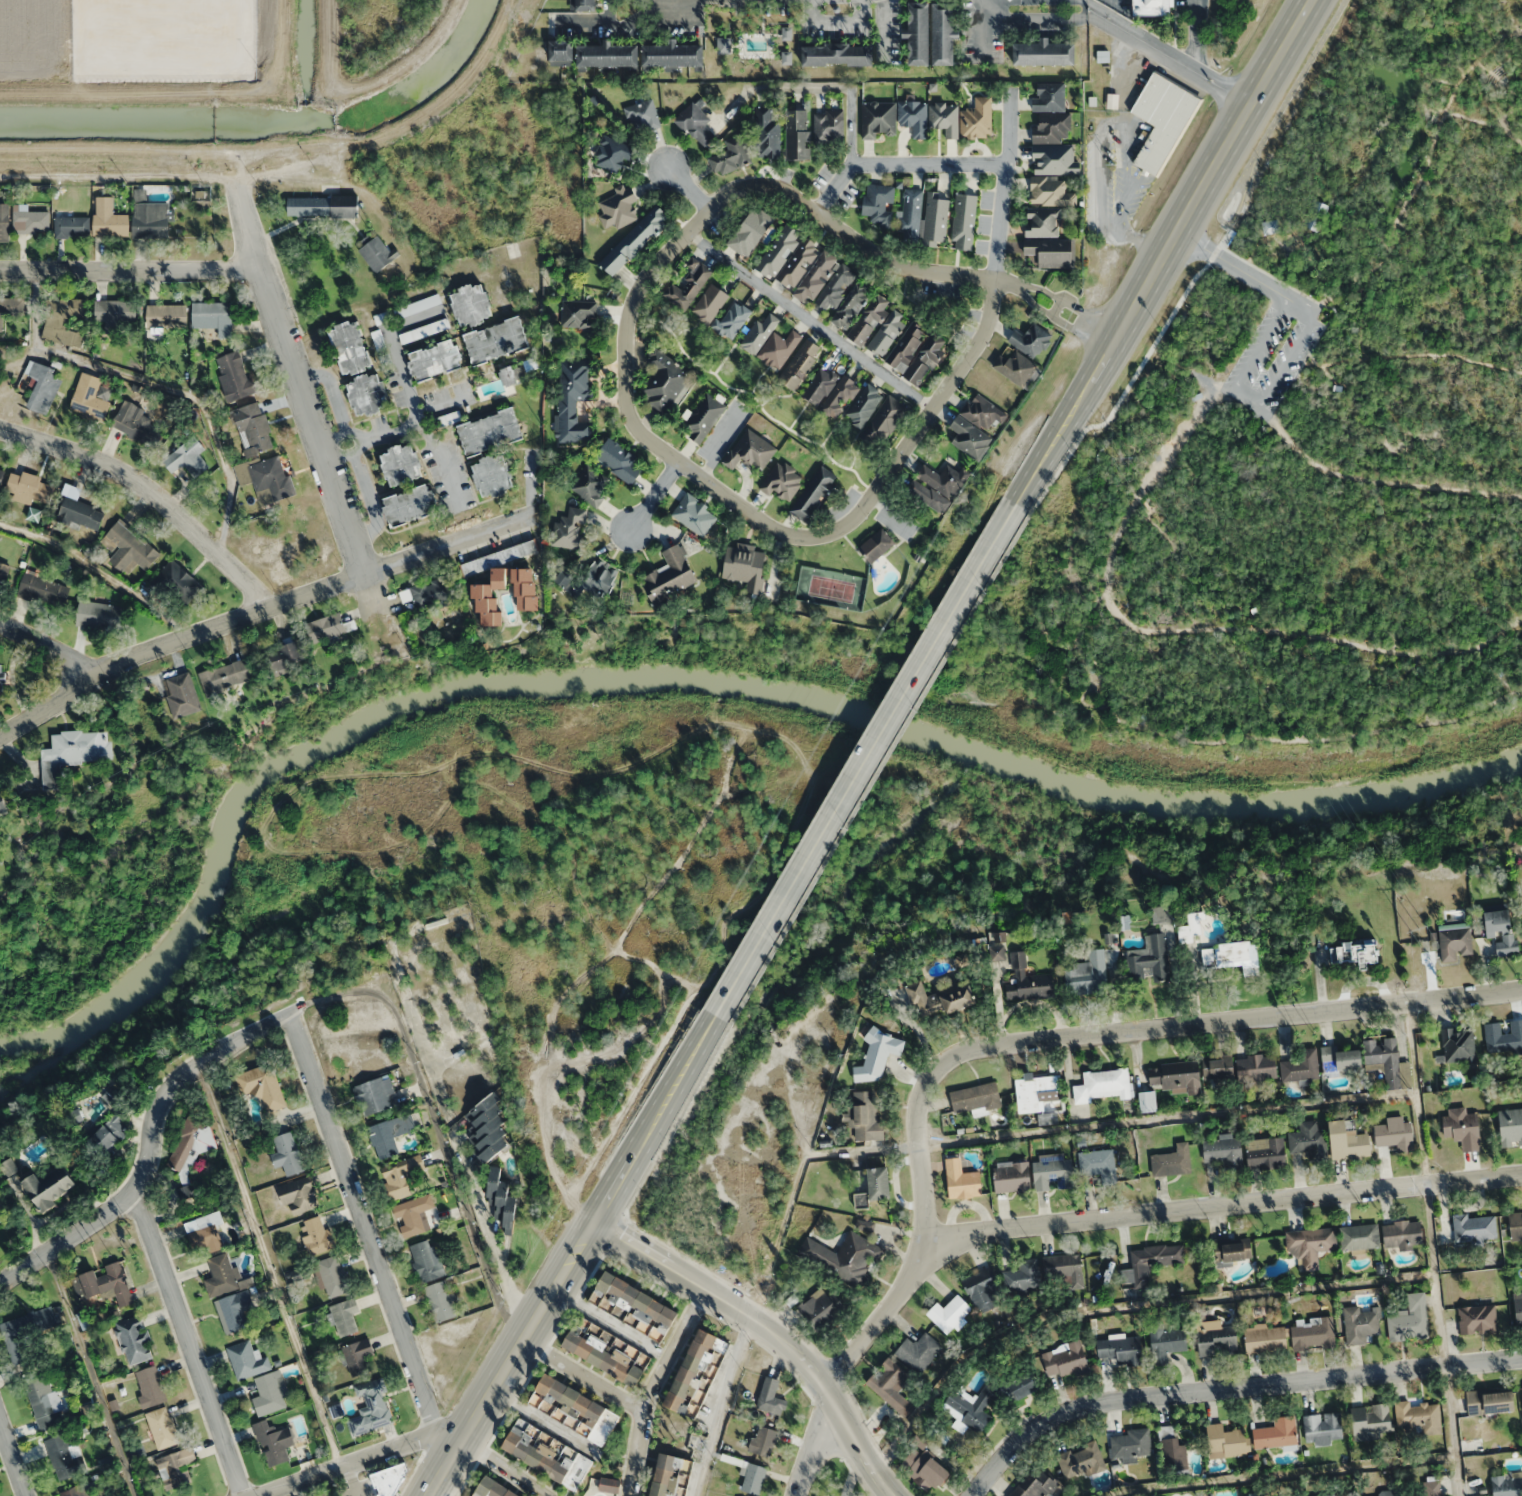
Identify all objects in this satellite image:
road: (1072, 2)
building: (582, 5)
building: (1150, 7)
road: (609, 10)
road: (882, 18)
road: (835, 19)
road: (611, 22)
road: (981, 30)
building: (916, 33)
building: (942, 33)
road: (1166, 49)
building: (561, 52)
building: (1043, 52)
building: (837, 54)
building: (607, 56)
building: (672, 56)
building: (1049, 96)
building: (642, 115)
building: (913, 117)
building: (977, 118)
building: (943, 119)
building: (878, 120)
building: (1162, 120)
building: (694, 124)
building: (828, 125)
building: (1051, 127)
building: (767, 134)
building: (797, 134)
building: (612, 154)
building: (730, 156)
building: (1054, 159)
road: (902, 162)
power tower: (1110, 163)
road: (689, 187)
road: (1005, 190)
road: (1413, 190)
building: (1050, 191)
building: (878, 204)
building: (322, 205)
building: (618, 207)
building: (910, 214)
building: (1316, 215)
building: (108, 219)
building: (150, 219)
building: (935, 219)
building: (30, 221)
building: (964, 221)
building: (1041, 221)
building: (4, 223)
building: (71, 226)
building: (1270, 226)
building: (750, 231)
building: (635, 240)
building: (778, 250)
road: (1164, 251)
building: (1050, 252)
building: (377, 253)
building: (798, 262)
road: (1210, 262)
road: (1230, 265)
road: (129, 268)
building: (817, 275)
building: (687, 287)
building: (835, 287)
building: (709, 303)
building: (471, 304)
building: (851, 305)
building: (10, 307)
building: (64, 310)
building: (578, 314)
building: (113, 315)
building: (166, 316)
building: (213, 317)
building: (732, 319)
building: (869, 319)
building: (424, 330)
building: (887, 332)
building: (495, 340)
building: (1030, 340)
building: (350, 347)
road: (625, 349)
building: (779, 349)
parking lot: (1273, 349)
building: (915, 352)
road: (1415, 353)
building: (435, 360)
road: (1296, 363)
building: (800, 364)
building: (1016, 368)
building: (508, 376)
building: (234, 377)
road: (297, 381)
building: (663, 381)
building: (42, 386)
road: (1230, 388)
building: (830, 391)
building: (367, 395)
building: (90, 397)
building: (573, 399)
road: (1262, 401)
building: (864, 405)
building: (704, 416)
building: (883, 422)
building: (137, 424)
building: (976, 425)
building: (253, 429)
building: (490, 431)
road: (1268, 442)
park: (1289, 448)
building: (750, 451)
power tower: (1121, 457)
building: (187, 458)
building: (620, 461)
building: (401, 464)
building: (1, 474)
building: (492, 474)
building: (266, 477)
building: (592, 485)
building: (30, 486)
building: (938, 486)
road: (149, 494)
building: (813, 494)
road: (656, 496)
building: (81, 513)
building: (694, 514)
building: (569, 529)
road: (1119, 532)
building: (877, 545)
building: (128, 548)
building: (745, 567)
building: (3, 575)
building: (670, 576)
building: (590, 579)
building: (175, 584)
building: (43, 589)
building: (525, 589)
building: (430, 591)
building: (490, 598)
road: (258, 611)
building: (99, 615)
building: (325, 627)
road: (50, 647)
building: (283, 654)
road: (1492, 670)
building: (226, 676)
building: (1, 681)
building: (182, 694)
road: (1248, 737)
building: (72, 752)
road: (866, 759)
road: (880, 766)
building: (2, 805)
park: (539, 886)
building: (1161, 913)
building: (1191, 927)
power tower: (1418, 928)
building: (1501, 930)
building: (1455, 942)
building: (998, 944)
building: (1354, 951)
building: (1227, 955)
building: (1149, 958)
building: (1088, 974)
building: (1027, 981)
building: (939, 999)
building: (1503, 1036)
road: (991, 1044)
building: (1458, 1044)
building: (878, 1055)
building: (1339, 1059)
building: (1388, 1061)
building: (1301, 1065)
building: (1256, 1066)
building: (1217, 1067)
building: (1174, 1073)
building: (262, 1086)
building: (1103, 1086)
building: (1036, 1092)
building: (374, 1094)
building: (975, 1098)
building: (1147, 1101)
building: (864, 1116)
building: (111, 1123)
road: (435, 1124)
building: (1463, 1126)
building: (1510, 1126)
road: (671, 1127)
building: (487, 1129)
building: (391, 1133)
building: (1396, 1134)
building: (1307, 1139)
building: (1348, 1141)
road: (147, 1144)
building: (1224, 1152)
building: (1265, 1152)
building: (286, 1153)
building: (188, 1154)
building: (1173, 1161)
building: (1096, 1162)
building: (1052, 1172)
building: (402, 1175)
building: (1012, 1177)
building: (962, 1179)
building: (879, 1182)
building: (48, 1187)
building: (300, 1193)
building: (501, 1198)
road: (1221, 1205)
building: (413, 1214)
road: (362, 1222)
building: (1515, 1225)
building: (1474, 1227)
road: (487, 1231)
building: (1402, 1233)
building: (204, 1234)
building: (317, 1235)
building: (1359, 1236)
building: (1310, 1244)
building: (1233, 1248)
building: (844, 1256)
road: (574, 1257)
building: (426, 1260)
building: (1150, 1261)
road: (270, 1264)
building: (1064, 1269)
power tower: (1443, 1270)
building: (221, 1275)
building: (1022, 1275)
building: (332, 1276)
building: (103, 1283)
building: (980, 1285)
building: (636, 1299)
building: (440, 1300)
building: (820, 1307)
building: (1518, 1308)
building: (235, 1310)
building: (948, 1313)
building: (344, 1316)
building: (1477, 1317)
building: (1410, 1318)
building: (1361, 1323)
road: (611, 1324)
building: (25, 1331)
road: (770, 1331)
building: (1313, 1332)
building: (1216, 1338)
building: (1265, 1338)
building: (134, 1339)
road: (186, 1341)
building: (1165, 1342)
building: (1121, 1350)
building: (917, 1351)
building: (605, 1353)
building: (358, 1356)
building: (1067, 1358)
building: (247, 1360)
road: (88, 1372)
building: (696, 1372)
road: (730, 1372)
road: (583, 1376)
building: (1023, 1383)
road: (1227, 1385)
building: (150, 1386)
building: (891, 1386)
road: (652, 1387)
building: (270, 1393)
building: (770, 1396)
building: (44, 1401)
building: (1490, 1401)
building: (973, 1405)
building: (372, 1407)
building: (577, 1408)
building: (1418, 1417)
building: (1371, 1420)
building: (162, 1427)
building: (1322, 1428)
building: (1276, 1433)
building: (1479, 1437)
road: (448, 1438)
building: (763, 1440)
building: (1225, 1441)
building: (273, 1442)
building: (1131, 1442)
building: (1172, 1448)
building: (63, 1455)
building: (546, 1458)
road: (12, 1459)
building: (1080, 1459)
road: (704, 1461)
road: (347, 1465)
building: (173, 1467)
road: (504, 1467)
building: (925, 1468)
building: (670, 1475)
building: (752, 1477)
building: (390, 1479)
road: (347, 1481)
building: (1034, 1484)
building: (1507, 1484)
building: (609, 1486)
building: (1424, 1487)
building: (492, 1489)
building: (77, 1490)
road: (439, 1491)
building: (1388, 1492)
building: (1332, 1494)

